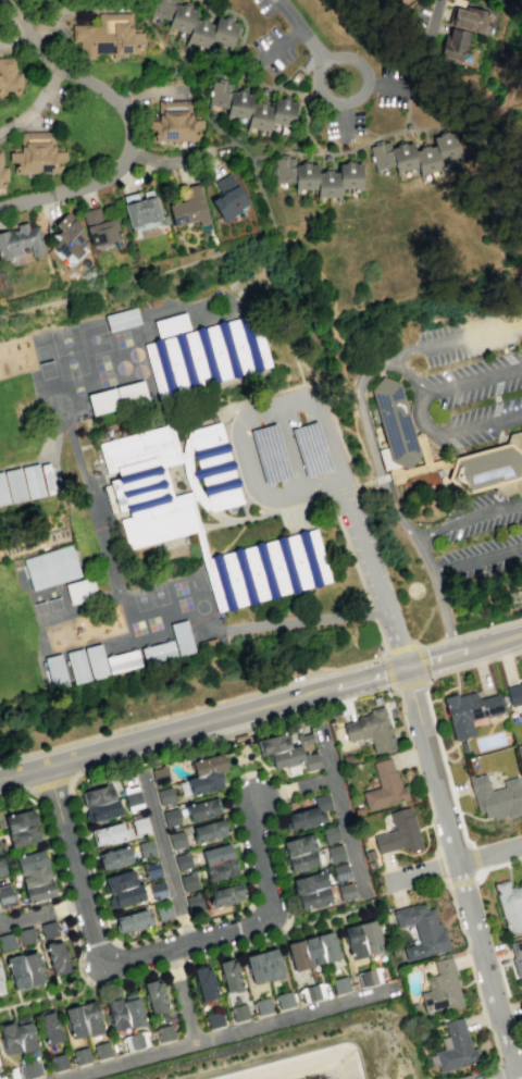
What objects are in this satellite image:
road: (220, 4)
road: (74, 7)
building: (470, 20)
road: (436, 22)
building: (197, 26)
road: (297, 29)
road: (241, 34)
building: (107, 38)
road: (16, 42)
road: (279, 45)
building: (453, 45)
road: (417, 52)
road: (173, 53)
parking lot: (330, 73)
building: (9, 77)
road: (388, 86)
road: (153, 94)
road: (357, 98)
road: (34, 104)
building: (251, 108)
road: (207, 114)
road: (127, 119)
road: (346, 120)
building: (173, 123)
building: (408, 124)
road: (425, 128)
road: (371, 133)
road: (325, 144)
road: (337, 148)
building: (35, 153)
road: (324, 153)
road: (287, 154)
building: (414, 154)
building: (456, 158)
road: (169, 161)
road: (256, 172)
building: (3, 173)
building: (318, 178)
building: (0, 189)
building: (226, 198)
building: (139, 208)
building: (189, 209)
road: (362, 216)
road: (380, 221)
building: (98, 226)
building: (67, 235)
building: (21, 240)
road: (396, 257)
road: (265, 273)
road: (428, 289)
road: (209, 297)
road: (332, 313)
building: (122, 319)
building: (171, 324)
parking lot: (472, 336)
road: (456, 337)
park: (69, 352)
building: (206, 355)
road: (508, 357)
park: (80, 367)
road: (505, 371)
road: (62, 387)
road: (496, 388)
building: (130, 394)
parking lot: (469, 400)
building: (102, 401)
road: (295, 401)
road: (495, 408)
building: (394, 422)
road: (496, 423)
road: (453, 430)
road: (366, 432)
road: (499, 437)
road: (330, 438)
parking lot: (283, 449)
road: (422, 450)
road: (287, 452)
road: (240, 466)
road: (419, 468)
building: (489, 468)
road: (381, 479)
building: (166, 481)
building: (25, 482)
road: (363, 483)
road: (323, 489)
road: (335, 492)
road: (319, 500)
parking lot: (480, 514)
road: (467, 518)
building: (39, 539)
road: (364, 539)
building: (28, 542)
road: (476, 558)
parking lot: (481, 558)
road: (12, 559)
building: (50, 567)
building: (265, 569)
building: (79, 590)
park: (158, 594)
park: (140, 598)
road: (368, 606)
road: (371, 612)
road: (300, 622)
road: (422, 624)
road: (395, 632)
road: (470, 632)
building: (179, 637)
road: (509, 637)
building: (156, 652)
road: (450, 653)
building: (94, 661)
building: (121, 661)
building: (76, 666)
traffic signals: (406, 666)
building: (54, 670)
road: (427, 678)
road: (457, 682)
road: (395, 690)
road: (442, 693)
building: (513, 694)
road: (211, 704)
building: (469, 709)
road: (431, 716)
road: (202, 722)
building: (371, 729)
building: (239, 737)
road: (241, 737)
building: (287, 751)
building: (519, 752)
road: (253, 757)
building: (207, 765)
building: (159, 776)
road: (271, 779)
building: (203, 783)
road: (50, 784)
road: (294, 786)
building: (384, 786)
road: (281, 792)
building: (164, 796)
building: (132, 797)
building: (497, 797)
building: (99, 803)
road: (72, 806)
building: (202, 808)
road: (340, 808)
building: (309, 814)
building: (171, 817)
building: (139, 826)
building: (21, 829)
building: (208, 830)
building: (399, 832)
building: (108, 834)
building: (330, 834)
building: (176, 840)
building: (146, 848)
building: (299, 853)
building: (335, 853)
road: (241, 856)
building: (113, 857)
road: (475, 857)
road: (165, 860)
building: (183, 860)
building: (217, 861)
road: (456, 863)
road: (496, 865)
road: (439, 866)
building: (1, 867)
building: (151, 869)
building: (340, 871)
road: (460, 872)
building: (34, 876)
building: (521, 878)
road: (460, 880)
building: (188, 881)
building: (124, 888)
building: (157, 890)
building: (311, 890)
building: (345, 890)
building: (226, 894)
building: (5, 896)
building: (192, 901)
building: (509, 905)
building: (162, 910)
road: (41, 914)
road: (333, 916)
building: (130, 920)
road: (184, 927)
building: (48, 929)
road: (238, 930)
building: (420, 930)
building: (25, 935)
building: (362, 938)
building: (7, 941)
road: (95, 944)
road: (465, 947)
building: (311, 950)
road: (145, 955)
building: (57, 957)
building: (517, 957)
building: (263, 966)
building: (24, 969)
road: (138, 975)
building: (228, 975)
building: (368, 977)
road: (65, 982)
building: (203, 982)
building: (339, 984)
building: (1, 988)
building: (440, 989)
road: (45, 990)
road: (59, 991)
building: (312, 992)
road: (17, 996)
building: (154, 996)
road: (45, 997)
building: (284, 1000)
road: (49, 1003)
building: (262, 1005)
building: (132, 1012)
building: (238, 1012)
road: (7, 1013)
road: (13, 1013)
building: (115, 1013)
building: (213, 1018)
road: (482, 1018)
road: (484, 1018)
building: (82, 1019)
building: (48, 1027)
road: (240, 1028)
building: (164, 1032)
building: (8, 1037)
building: (24, 1037)
building: (135, 1040)
building: (455, 1047)
building: (101, 1050)
road: (496, 1051)
building: (80, 1055)
road: (123, 1059)
building: (58, 1062)
building: (28, 1069)
building: (0, 1076)
building: (1, 1077)
building: (463, 1077)

